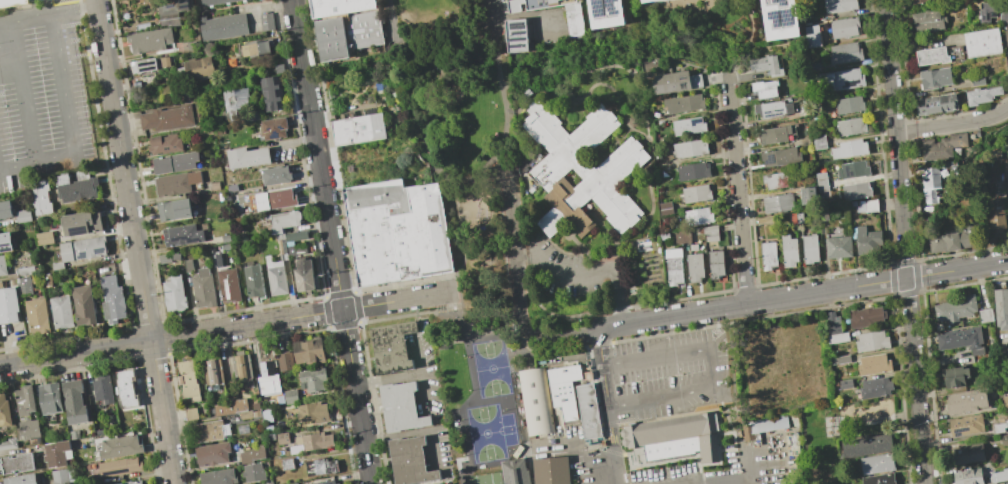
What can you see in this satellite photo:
building: (646, 0)
building: (213, 1)
building: (658, 1)
building: (916, 1)
building: (13, 2)
building: (176, 5)
road: (265, 5)
building: (839, 5)
road: (497, 6)
rooftop solar panel: (598, 6)
building: (992, 11)
building: (610, 13)
rooftop solar panel: (788, 14)
rooftop solar panel: (777, 16)
road: (49, 17)
building: (783, 18)
building: (169, 19)
building: (928, 20)
building: (267, 21)
building: (573, 23)
road: (0, 26)
building: (225, 26)
building: (345, 27)
building: (844, 27)
building: (516, 35)
building: (813, 36)
road: (2, 37)
road: (78, 38)
road: (405, 38)
building: (151, 41)
building: (982, 43)
building: (1006, 43)
building: (259, 48)
road: (470, 50)
building: (845, 53)
road: (81, 54)
building: (932, 55)
road: (82, 61)
rooftop solar panel: (145, 64)
building: (144, 65)
building: (766, 65)
building: (198, 68)
rooftop solar panel: (146, 72)
rooftop solar panel: (684, 77)
building: (934, 77)
road: (433, 78)
building: (841, 79)
building: (977, 80)
building: (674, 81)
road: (62, 86)
building: (765, 88)
building: (271, 91)
road: (23, 92)
road: (507, 94)
building: (981, 95)
parking lot: (44, 98)
building: (234, 102)
building: (683, 103)
building: (935, 103)
building: (849, 104)
building: (772, 109)
rooftop solar panel: (780, 109)
rooftop solar panel: (767, 111)
rooftop solar panel: (774, 114)
building: (167, 117)
rooftop solar panel: (695, 121)
road: (952, 124)
building: (275, 126)
building: (688, 126)
building: (850, 126)
rooftop solar panel: (280, 128)
building: (358, 128)
rooftop solar panel: (269, 129)
building: (777, 133)
rooftop solar panel: (274, 135)
building: (953, 140)
building: (819, 141)
building: (164, 143)
building: (849, 148)
building: (927, 148)
building: (690, 149)
road: (3, 151)
road: (496, 152)
building: (249, 156)
road: (444, 156)
building: (779, 156)
rooftop solar panel: (770, 159)
road: (36, 160)
building: (175, 162)
building: (1005, 168)
building: (853, 169)
building: (693, 171)
building: (275, 174)
building: (582, 176)
building: (776, 180)
building: (177, 182)
building: (822, 182)
building: (929, 183)
building: (75, 186)
road: (738, 191)
building: (854, 191)
building: (695, 193)
building: (1007, 193)
building: (808, 195)
building: (40, 197)
building: (275, 198)
building: (777, 203)
building: (866, 206)
building: (5, 209)
building: (175, 209)
building: (666, 209)
park: (460, 214)
building: (995, 214)
building: (23, 216)
building: (698, 216)
road: (513, 217)
building: (285, 219)
building: (81, 222)
building: (396, 231)
rooftop solar panel: (79, 232)
building: (710, 232)
building: (180, 234)
building: (296, 236)
building: (682, 236)
road: (463, 237)
building: (43, 238)
building: (954, 238)
building: (865, 239)
building: (5, 242)
road: (134, 242)
road: (330, 242)
road: (903, 242)
building: (838, 247)
building: (295, 249)
building: (809, 249)
building: (80, 250)
rooftop solar panel: (100, 250)
building: (788, 250)
building: (768, 255)
building: (164, 257)
rooftop solar panel: (82, 258)
building: (188, 264)
parking lot: (567, 264)
building: (715, 264)
building: (2, 265)
building: (673, 266)
building: (694, 266)
building: (24, 270)
building: (305, 274)
road: (589, 274)
building: (254, 279)
building: (277, 279)
building: (47, 280)
building: (24, 284)
building: (228, 284)
building: (203, 286)
rooftop solar panel: (228, 289)
building: (175, 291)
road: (802, 294)
road: (517, 297)
building: (111, 299)
building: (8, 305)
building: (83, 305)
building: (1001, 308)
building: (955, 309)
building: (61, 312)
building: (37, 315)
building: (984, 315)
building: (866, 317)
building: (831, 323)
road: (223, 328)
road: (477, 334)
building: (837, 337)
road: (563, 338)
building: (961, 340)
building: (871, 341)
building: (391, 347)
building: (308, 350)
building: (840, 360)
building: (284, 361)
park: (787, 364)
building: (873, 364)
building: (244, 367)
park: (490, 368)
road: (709, 368)
building: (266, 370)
building: (214, 372)
road: (421, 373)
building: (955, 377)
road: (387, 378)
building: (190, 380)
building: (313, 380)
building: (845, 383)
building: (875, 387)
building: (126, 388)
building: (103, 389)
building: (563, 389)
building: (290, 395)
building: (49, 398)
building: (24, 400)
building: (74, 401)
building: (535, 401)
building: (1005, 401)
building: (965, 402)
road: (464, 403)
road: (608, 406)
building: (400, 407)
building: (235, 409)
building: (4, 410)
building: (312, 412)
building: (588, 413)
building: (191, 414)
building: (266, 415)
road: (879, 419)
building: (768, 425)
building: (965, 425)
park: (846, 426)
building: (1003, 428)
building: (29, 429)
building: (244, 430)
building: (99, 431)
building: (206, 432)
park: (489, 432)
building: (74, 434)
road: (397, 434)
building: (673, 437)
building: (282, 438)
building: (316, 440)
building: (1004, 440)
building: (8, 443)
building: (866, 445)
building: (119, 446)
road: (434, 448)
building: (792, 448)
building: (56, 453)
building: (213, 454)
building: (252, 454)
building: (967, 454)
road: (748, 460)
building: (409, 461)
building: (17, 463)
building: (876, 463)
building: (119, 466)
building: (320, 467)
building: (550, 470)
building: (513, 471)
building: (252, 472)
building: (62, 476)
building: (968, 476)
building: (998, 476)
building: (219, 477)
park: (486, 478)
building: (20, 479)
building: (878, 479)
road: (719, 481)
road: (750, 481)
building: (130, 482)
building: (325, 482)
building: (1005, 482)
building: (266, 483)
building: (293, 483)
road: (604, 483)

